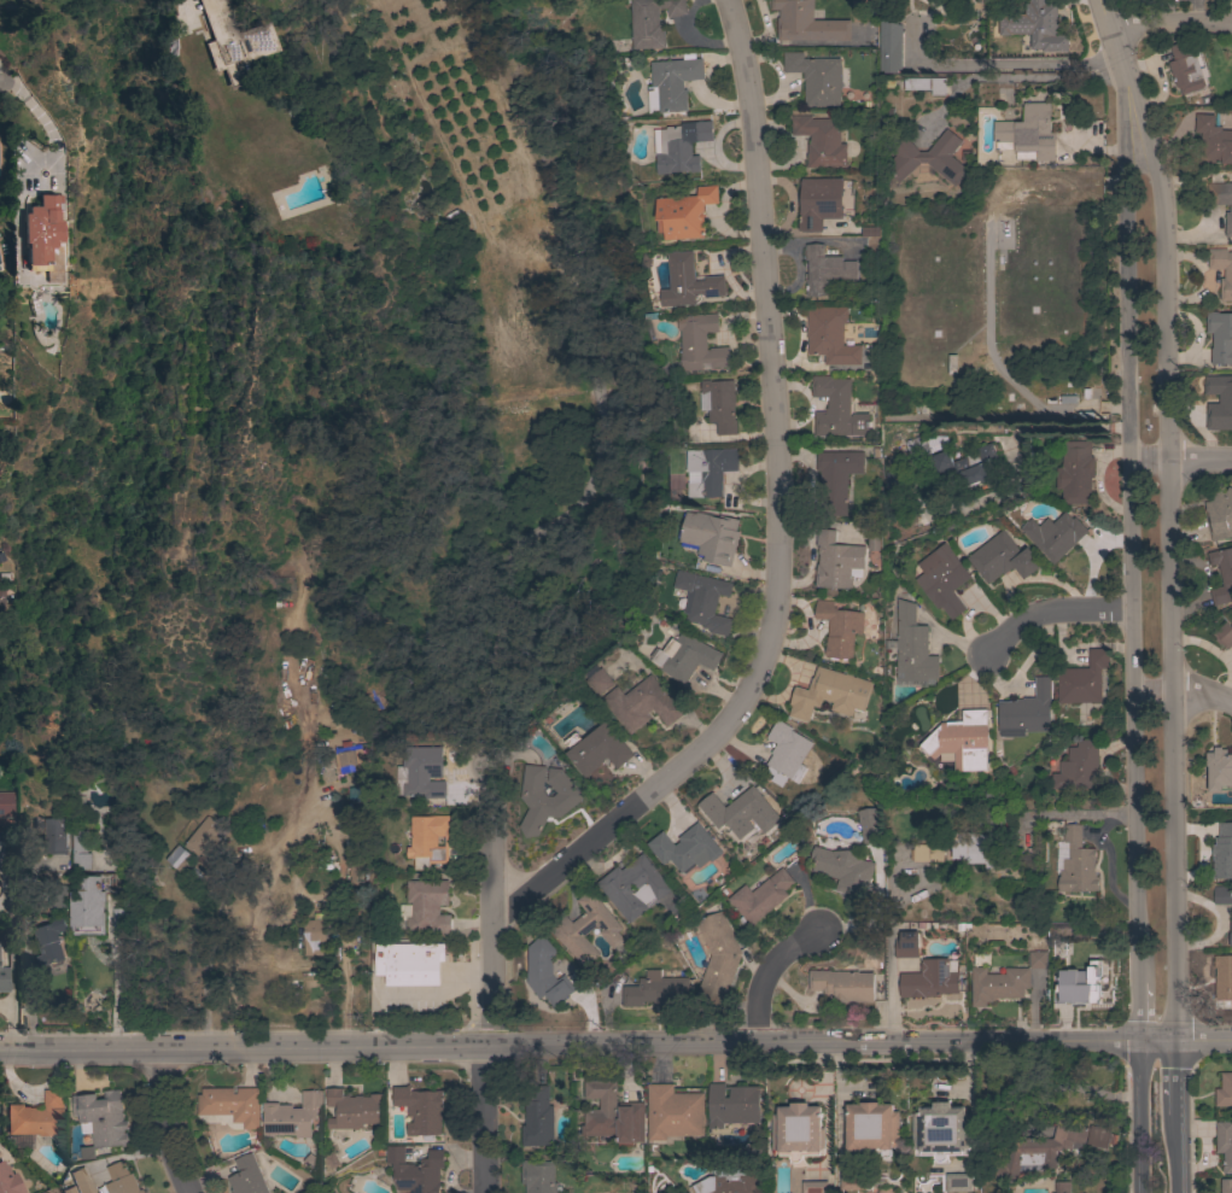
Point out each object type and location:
road: (185, 1)
building: (652, 22)
building: (806, 22)
road: (1169, 22)
building: (1033, 28)
building: (987, 34)
building: (229, 42)
building: (889, 46)
road: (1116, 55)
building: (1185, 68)
building: (816, 77)
road: (1018, 80)
building: (672, 82)
road: (1, 83)
building: (926, 84)
building: (1027, 133)
building: (821, 140)
building: (1213, 140)
building: (679, 147)
building: (929, 157)
building: (823, 200)
building: (1221, 200)
building: (685, 214)
building: (41, 232)
building: (825, 269)
building: (1227, 273)
building: (689, 282)
building: (829, 335)
building: (1220, 337)
building: (701, 343)
building: (1219, 402)
building: (718, 404)
building: (836, 409)
road: (1180, 458)
building: (976, 461)
building: (708, 469)
building: (1075, 472)
building: (836, 479)
building: (1220, 514)
road: (775, 525)
building: (1055, 534)
building: (708, 537)
road: (1132, 548)
building: (1002, 557)
building: (836, 561)
road: (1170, 572)
building: (1221, 574)
building: (942, 579)
building: (0, 593)
building: (703, 601)
road: (1047, 609)
building: (839, 628)
building: (1224, 634)
building: (912, 647)
building: (684, 656)
building: (1082, 679)
building: (597, 680)
road: (1184, 690)
building: (829, 694)
building: (642, 703)
building: (1026, 710)
building: (962, 741)
building: (597, 749)
building: (784, 752)
building: (350, 760)
building: (1079, 766)
building: (1219, 770)
building: (420, 772)
building: (358, 793)
building: (545, 797)
building: (6, 808)
building: (740, 811)
road: (1081, 814)
building: (869, 825)
building: (52, 834)
building: (205, 838)
building: (428, 840)
building: (977, 846)
building: (685, 848)
building: (80, 849)
building: (924, 852)
building: (1222, 852)
building: (179, 858)
building: (1075, 862)
road: (280, 867)
building: (843, 870)
building: (633, 887)
building: (1221, 894)
building: (57, 895)
building: (760, 896)
building: (428, 905)
building: (88, 913)
building: (118, 918)
building: (585, 928)
building: (1230, 931)
building: (315, 935)
building: (51, 943)
building: (906, 945)
road: (12, 958)
building: (718, 958)
building: (1037, 959)
building: (409, 963)
road: (484, 969)
building: (543, 971)
road: (769, 975)
building: (1222, 976)
building: (929, 979)
building: (4, 981)
building: (1087, 982)
building: (998, 984)
building: (841, 986)
road: (118, 990)
building: (656, 990)
road: (29, 993)
road: (1139, 1011)
road: (1204, 1037)
road: (1158, 1039)
road: (570, 1041)
road: (1176, 1077)
building: (1224, 1090)
building: (732, 1104)
building: (230, 1106)
building: (352, 1109)
building: (420, 1110)
building: (673, 1112)
building: (612, 1113)
building: (37, 1116)
building: (292, 1116)
road: (1140, 1116)
building: (103, 1117)
building: (538, 1118)
road: (165, 1123)
building: (871, 1128)
building: (940, 1130)
building: (796, 1131)
building: (1099, 1136)
building: (1224, 1144)
building: (1039, 1150)
road: (1178, 1154)
building: (415, 1170)
building: (247, 1176)
building: (538, 1176)
building: (119, 1180)
building: (852, 1180)
building: (81, 1181)
building: (959, 1181)
building: (728, 1182)
building: (4, 1183)
building: (1226, 1185)
building: (814, 1187)
building: (1062, 1187)
building: (68, 1189)

